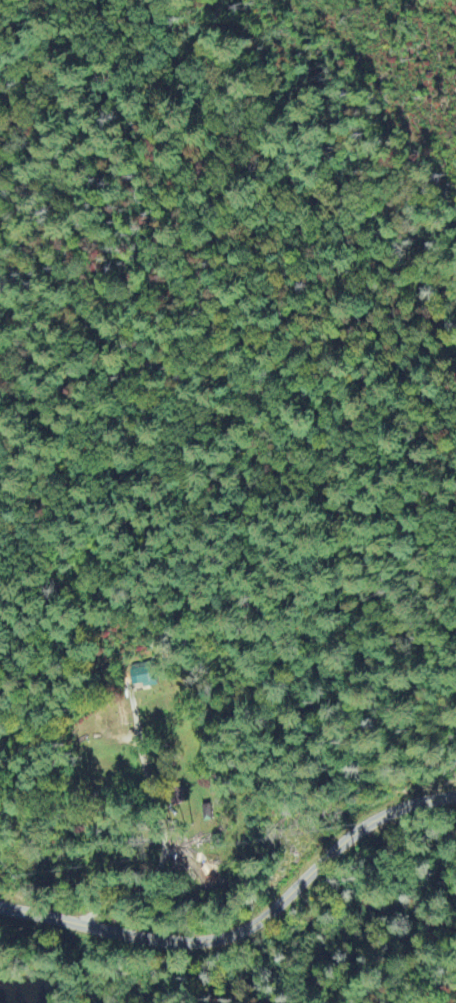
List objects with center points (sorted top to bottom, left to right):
building: (140, 678)
road: (247, 931)

